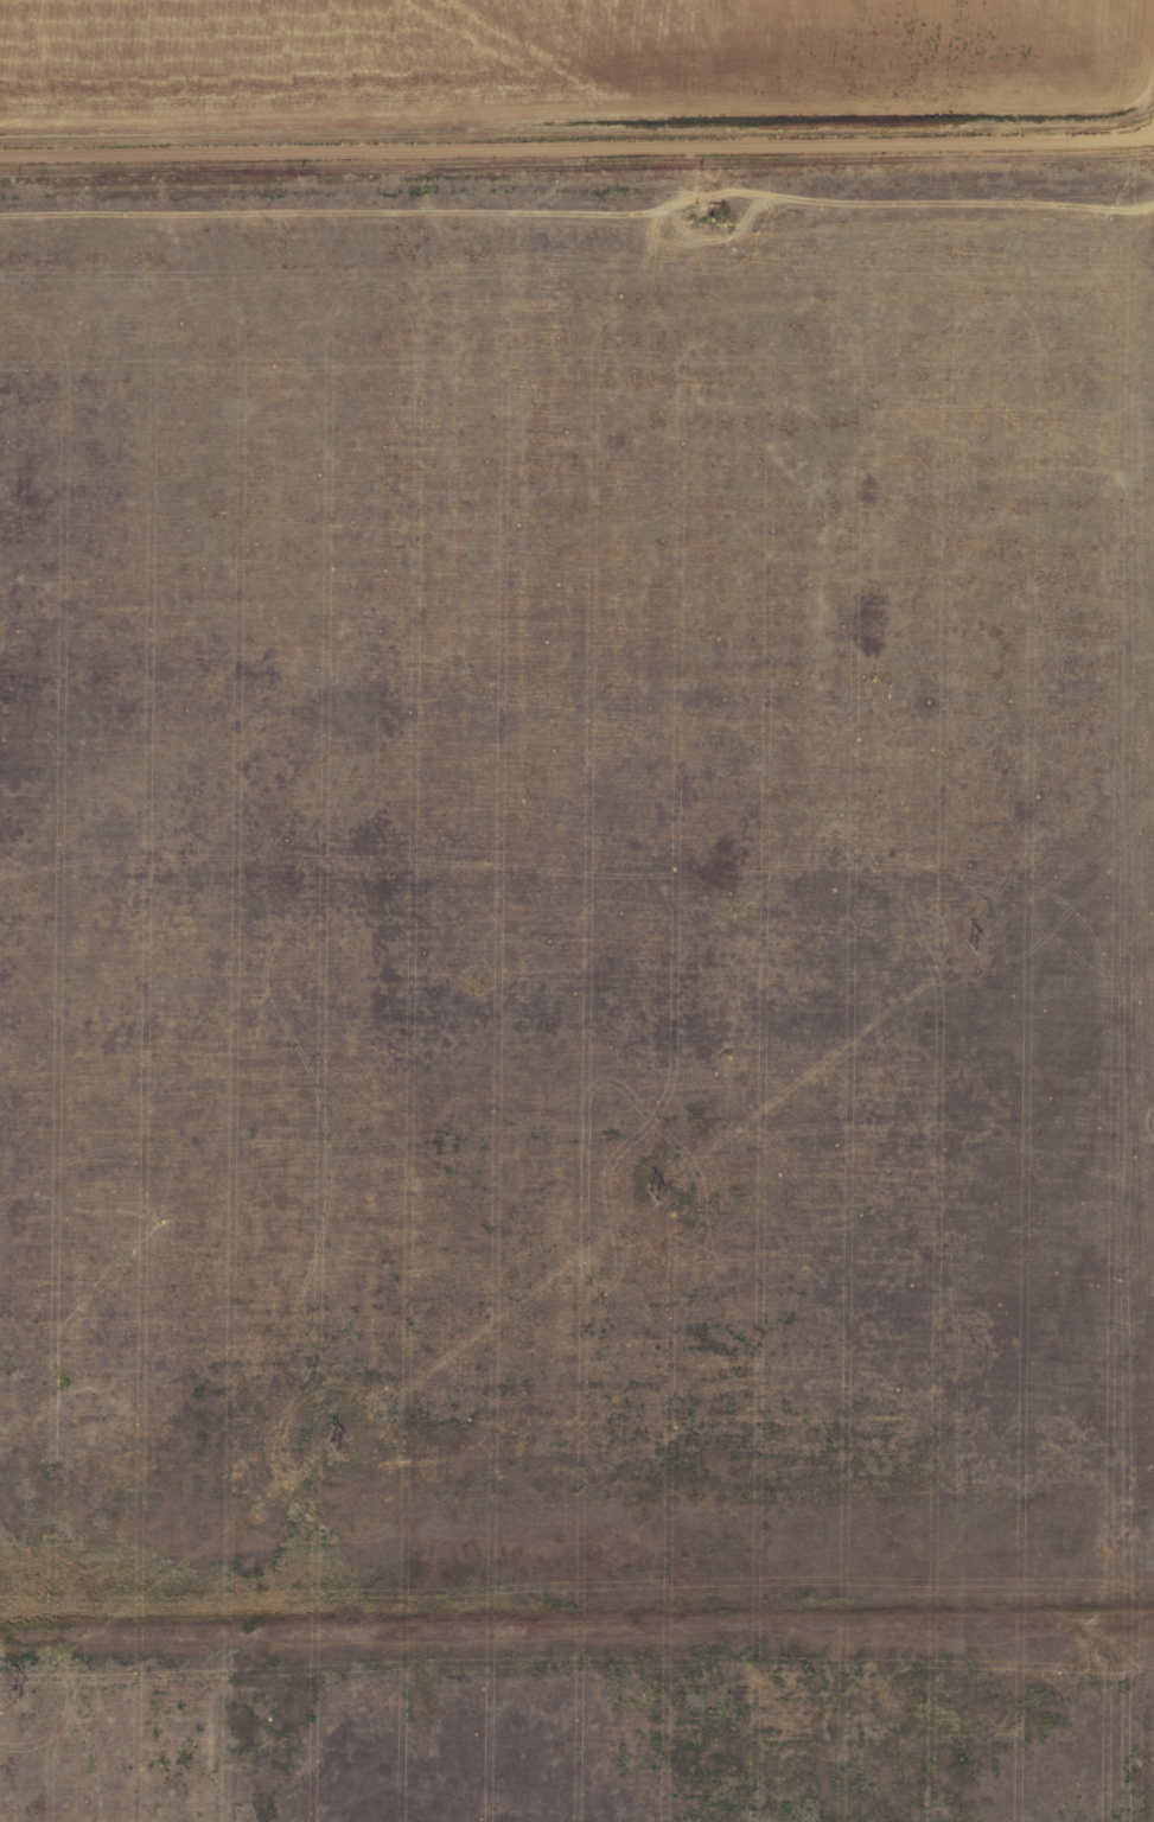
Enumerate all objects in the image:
road: (576, 149)
power tower: (973, 943)
power tower: (655, 1192)
power tower: (334, 1441)
power tower: (15, 1690)

